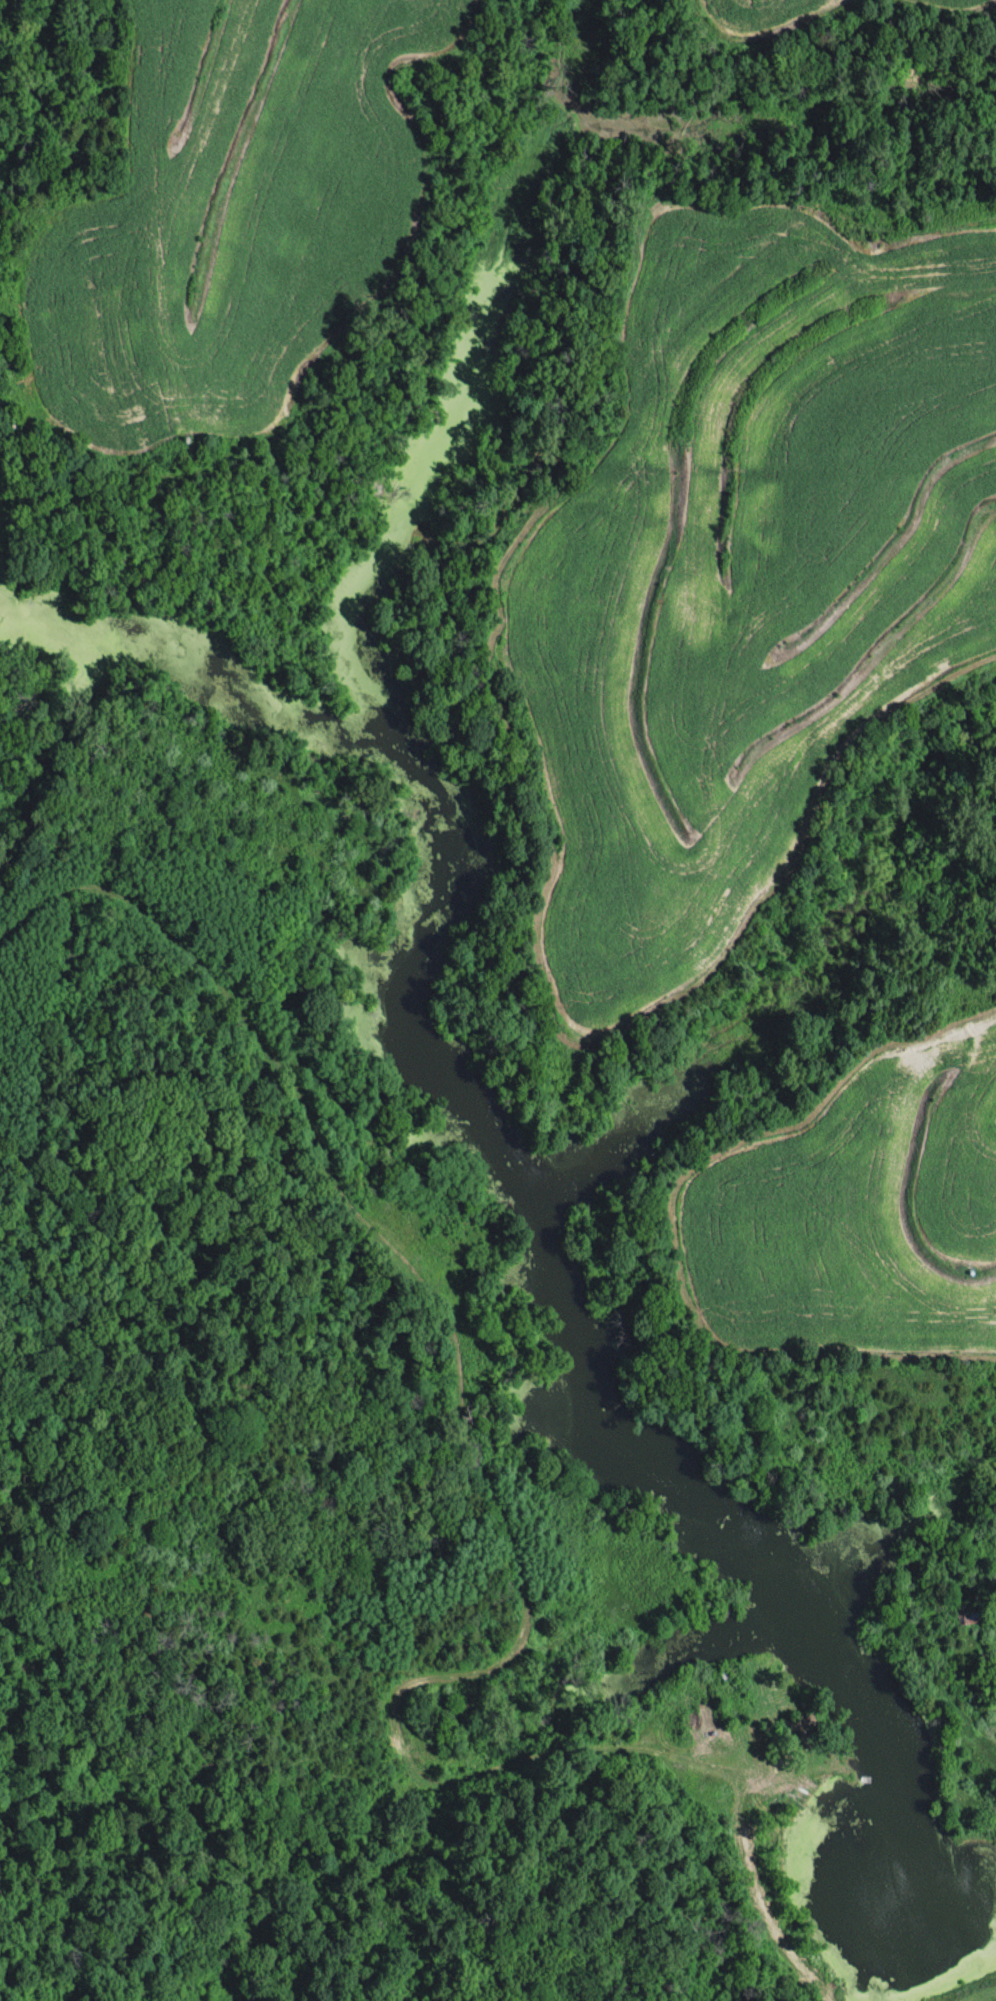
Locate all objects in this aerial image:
building: (960, 1611)
building: (798, 1717)

